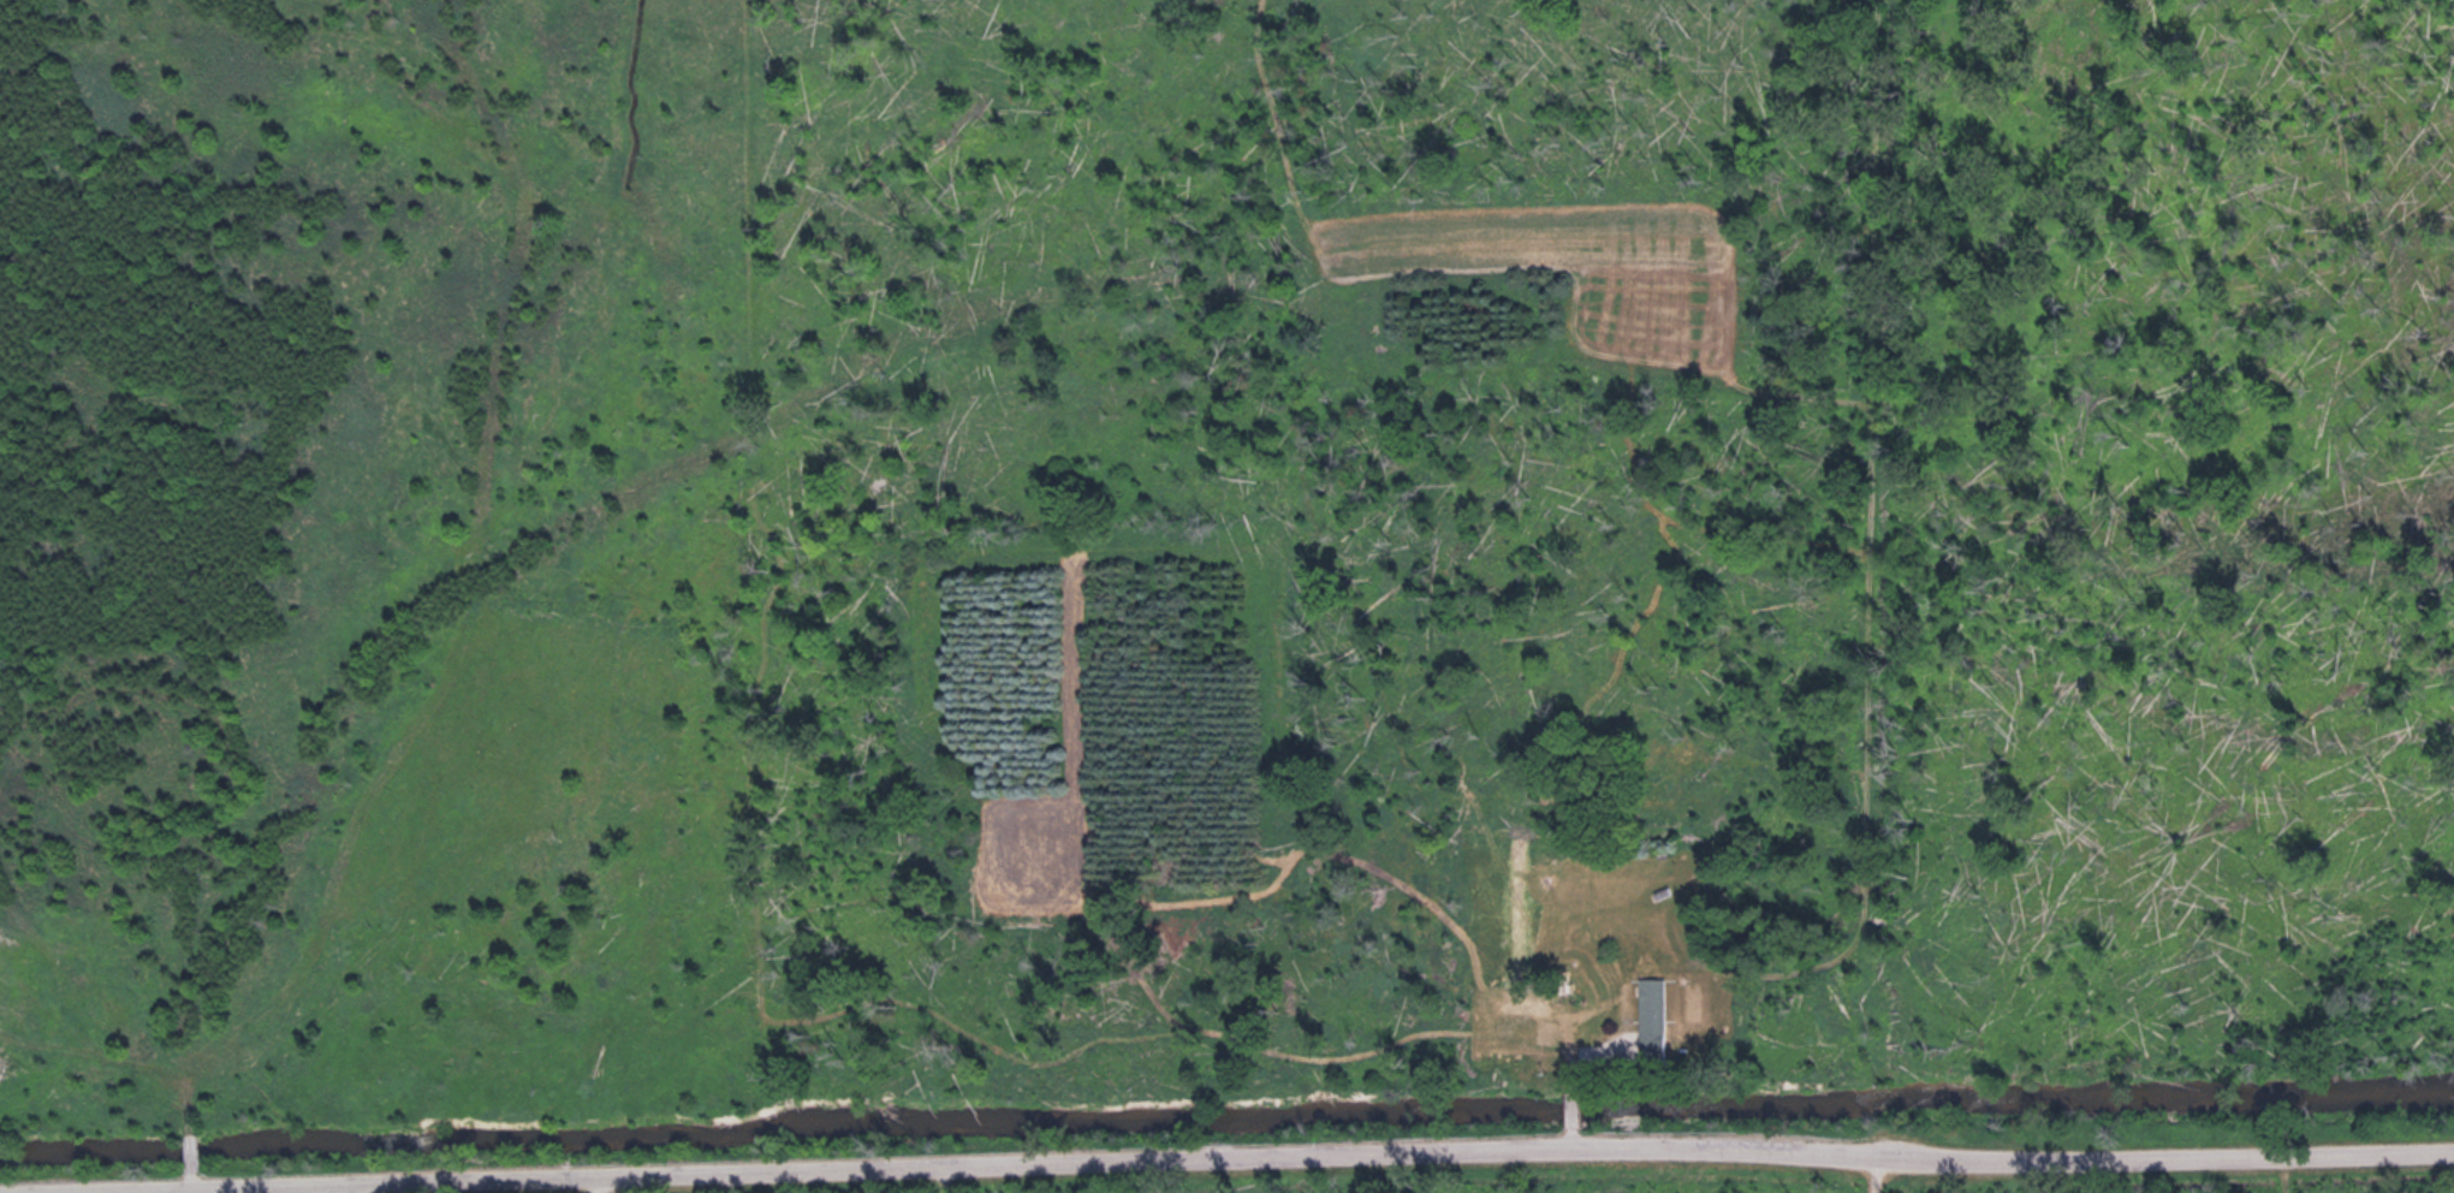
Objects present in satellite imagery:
building: (1650, 1011)
road: (1571, 1064)
road: (1573, 1114)
river: (1226, 1124)
road: (1571, 1136)
road: (1276, 1156)

